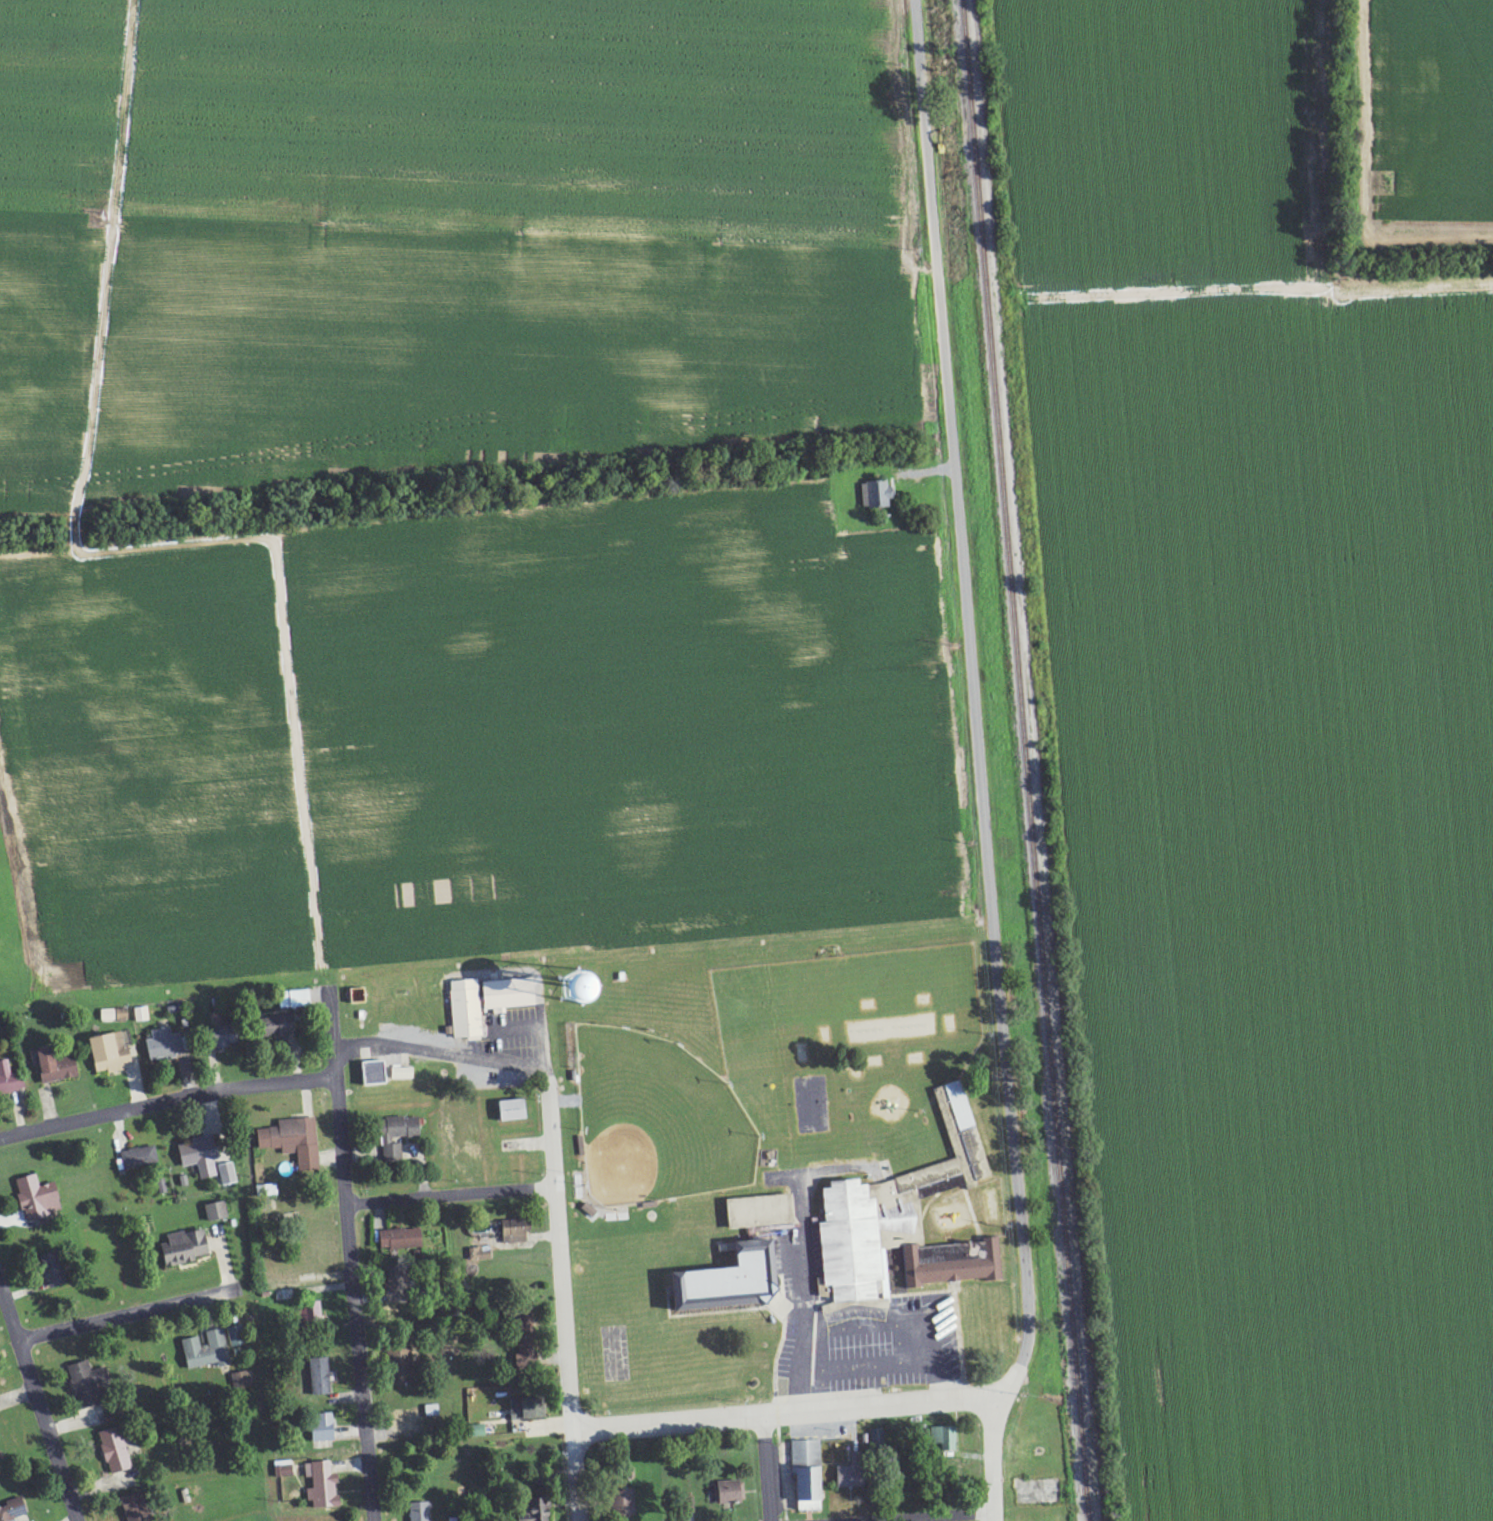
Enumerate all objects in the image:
road: (927, 119)
building: (873, 495)
railway: (1025, 760)
road: (989, 829)
building: (614, 987)
water tower: (573, 989)
building: (511, 994)
building: (299, 1000)
building: (467, 1009)
building: (143, 1015)
building: (283, 1026)
building: (228, 1035)
road: (389, 1042)
building: (165, 1045)
building: (112, 1053)
building: (55, 1065)
building: (377, 1073)
building: (404, 1074)
building: (10, 1079)
road: (167, 1098)
building: (515, 1110)
park: (656, 1118)
building: (399, 1135)
building: (294, 1142)
building: (201, 1156)
building: (139, 1158)
building: (229, 1174)
road: (452, 1194)
building: (40, 1199)
building: (893, 1207)
building: (217, 1212)
building: (763, 1212)
building: (517, 1231)
building: (403, 1239)
road: (562, 1244)
building: (187, 1248)
building: (481, 1254)
road: (351, 1261)
building: (955, 1263)
building: (56, 1270)
building: (737, 1281)
building: (399, 1285)
road: (459, 1286)
road: (111, 1314)
road: (796, 1322)
building: (238, 1336)
building: (208, 1351)
building: (525, 1354)
building: (404, 1361)
building: (322, 1377)
building: (243, 1382)
building: (89, 1385)
road: (39, 1400)
building: (529, 1409)
road: (780, 1409)
building: (407, 1421)
building: (325, 1428)
building: (878, 1439)
building: (946, 1439)
building: (116, 1451)
building: (0, 1456)
road: (990, 1463)
road: (773, 1465)
building: (284, 1469)
building: (854, 1473)
building: (324, 1486)
building: (729, 1492)
building: (627, 1503)
building: (137, 1507)
building: (539, 1510)
building: (420, 1512)
road: (925, 1517)
building: (456, 1519)

